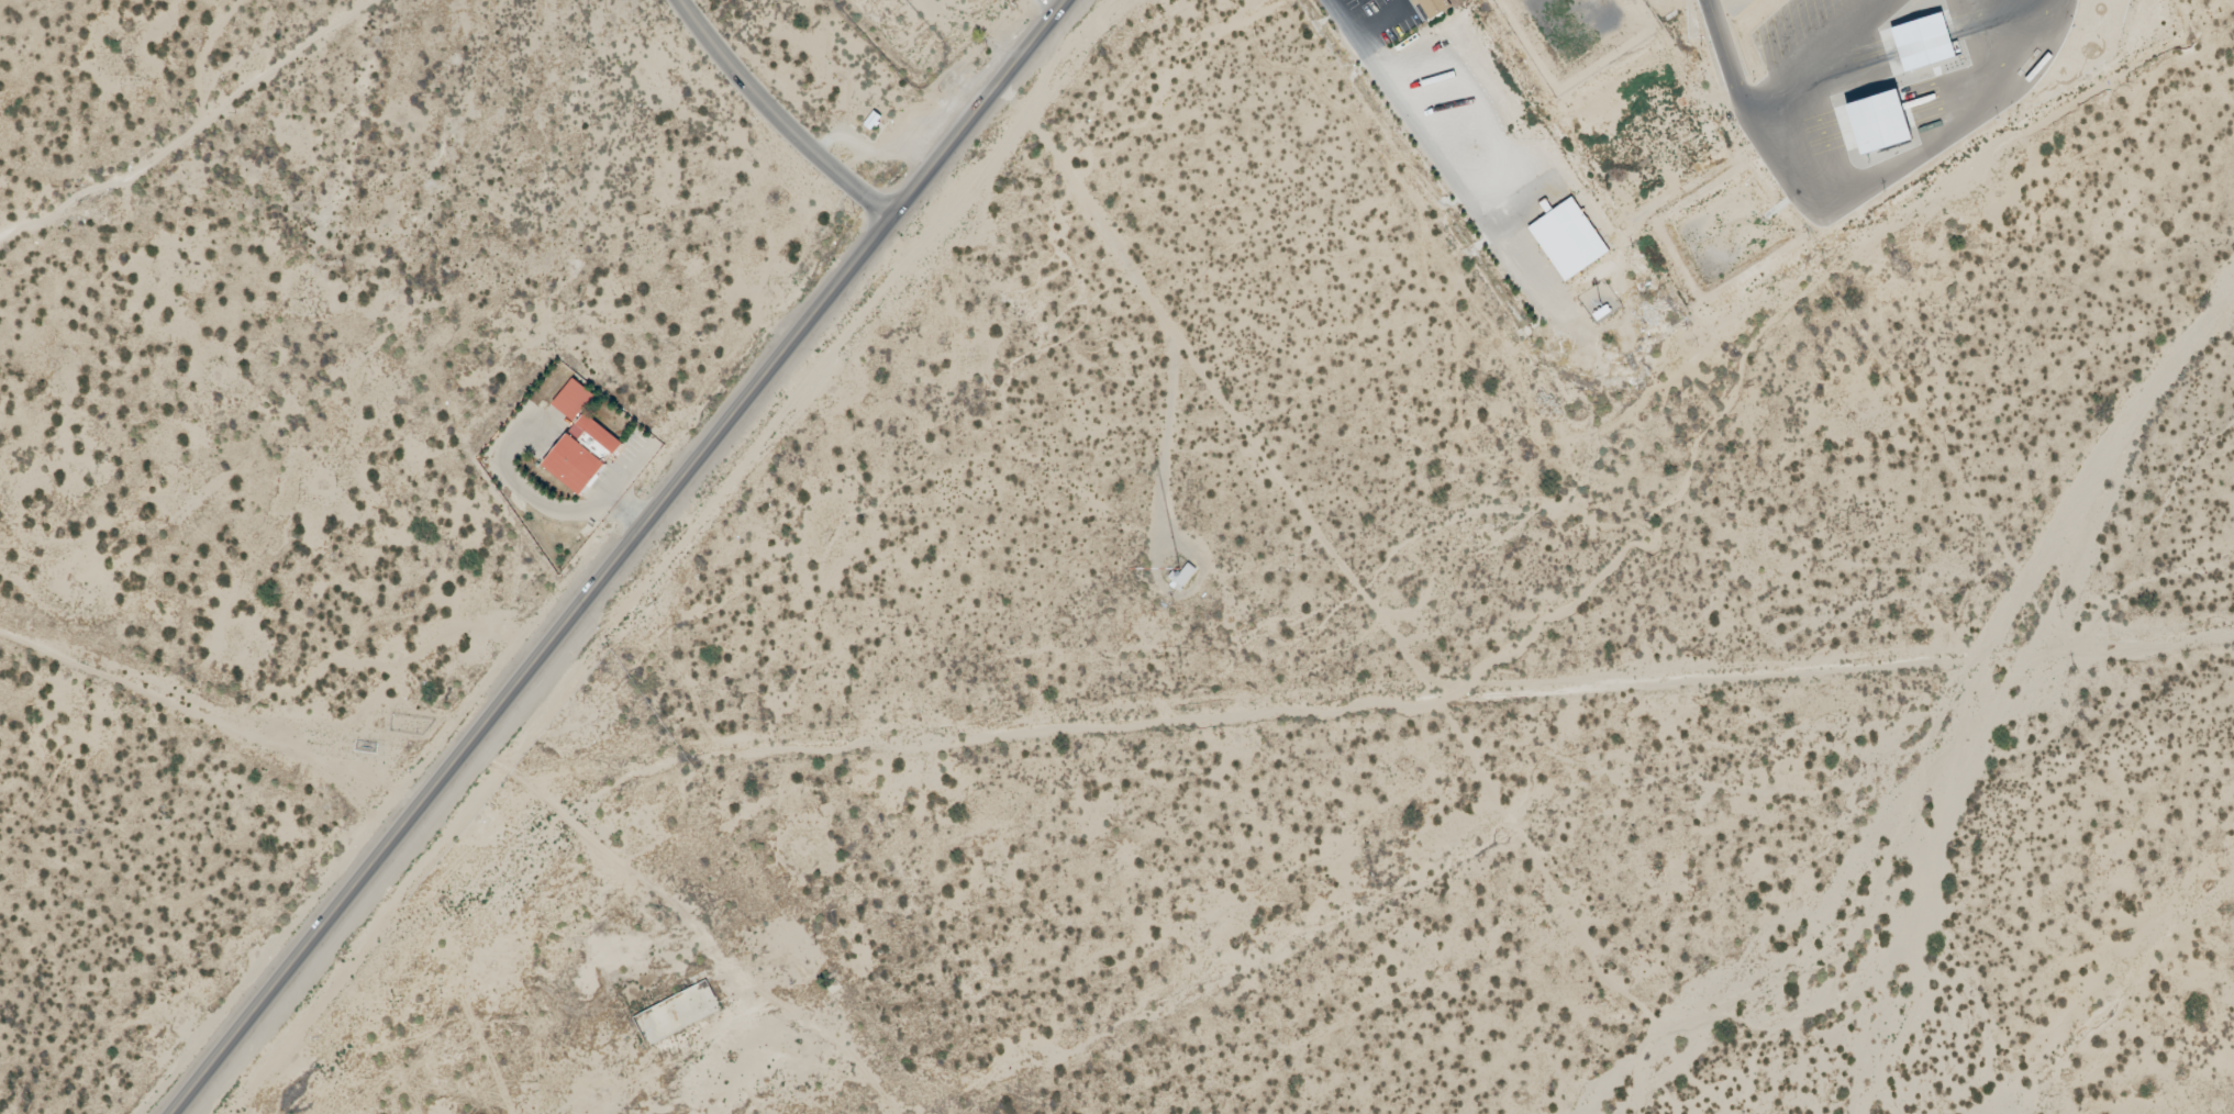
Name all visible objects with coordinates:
building: (1432, 7)
road: (776, 116)
road: (191, 133)
road: (1431, 148)
building: (1568, 239)
building: (573, 400)
building: (581, 454)
road: (619, 557)
road: (1333, 705)

